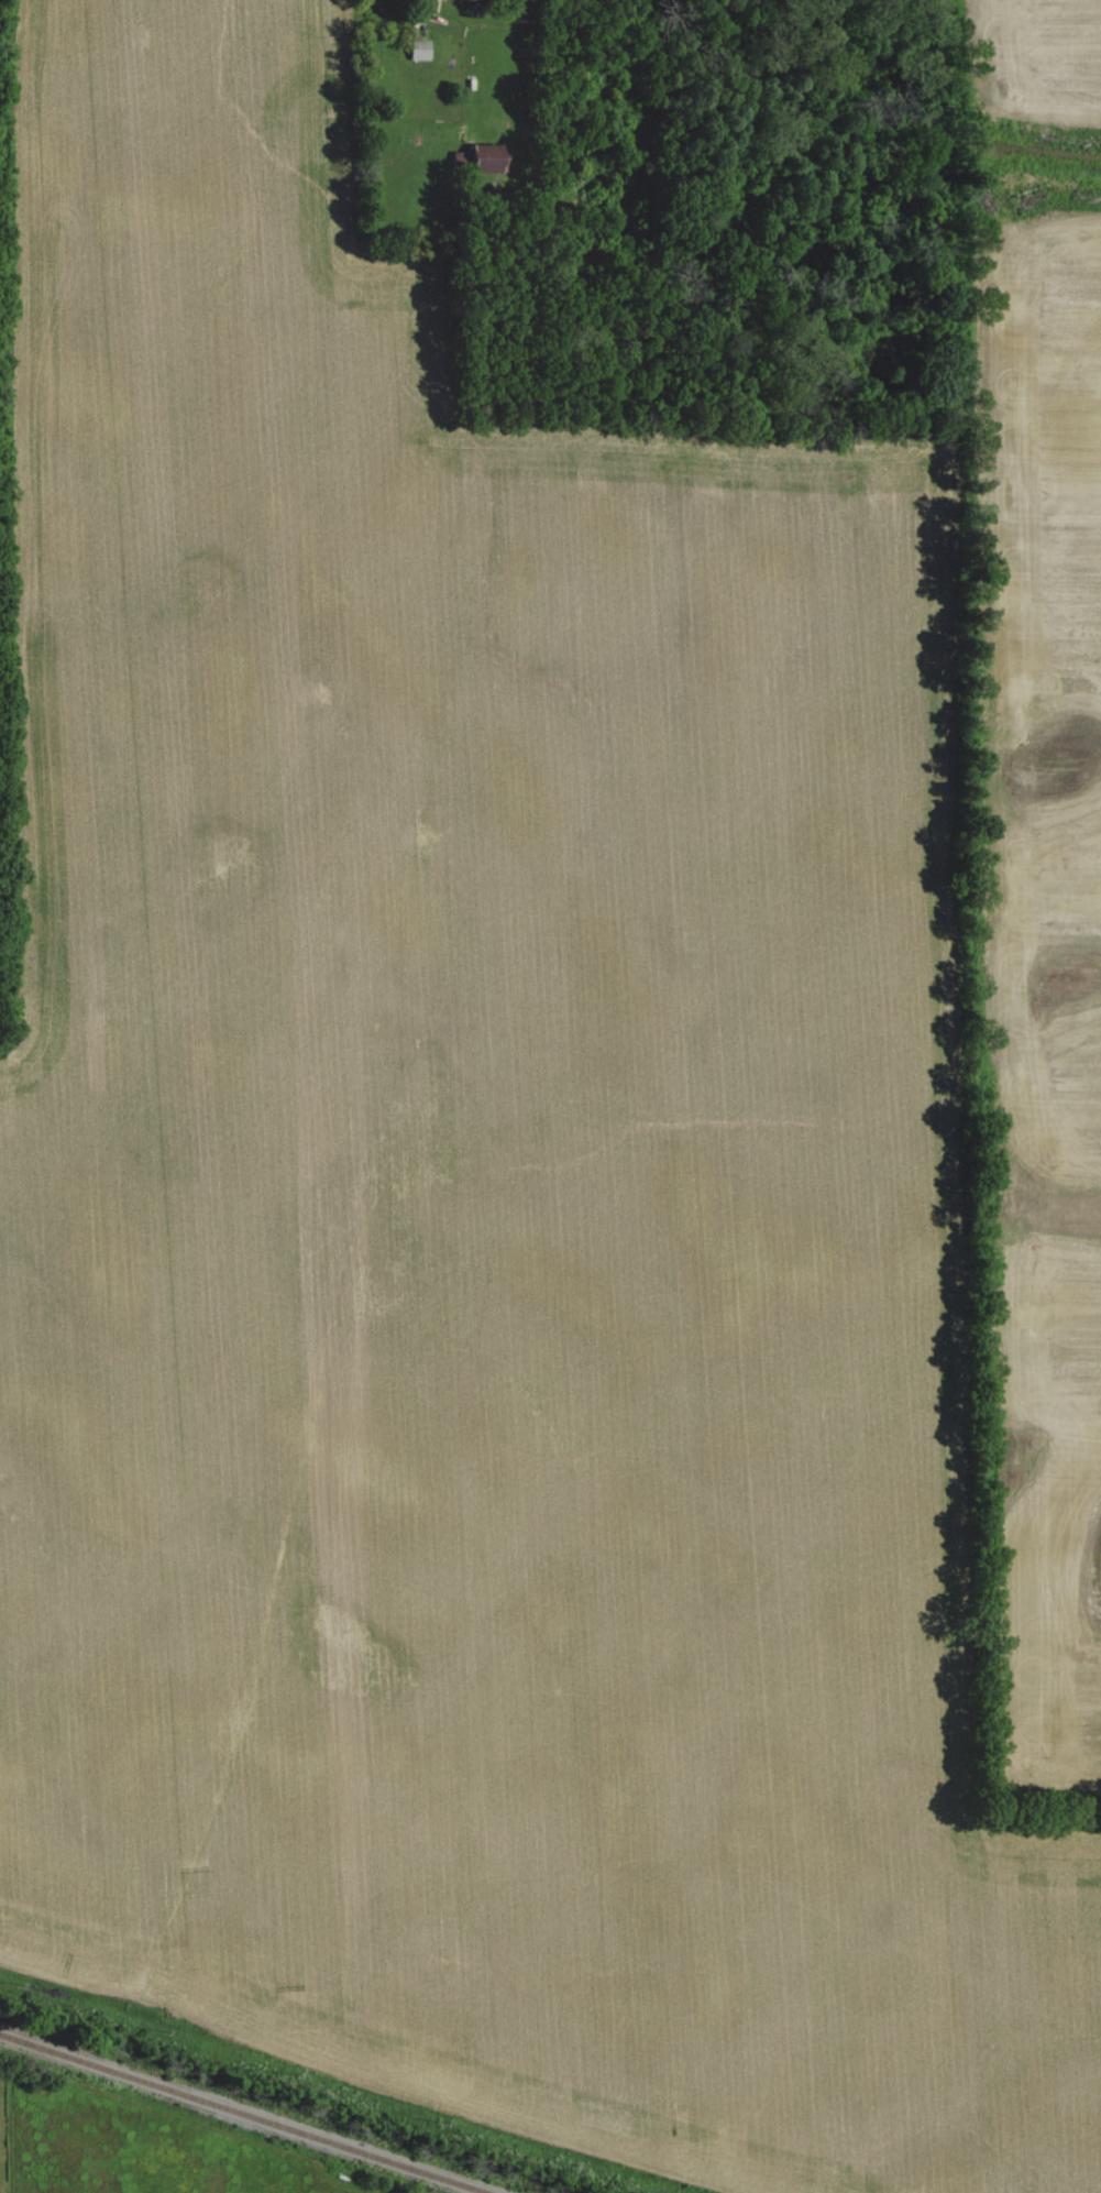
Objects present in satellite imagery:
building: (419, 48)
building: (487, 157)
railway: (241, 2114)

